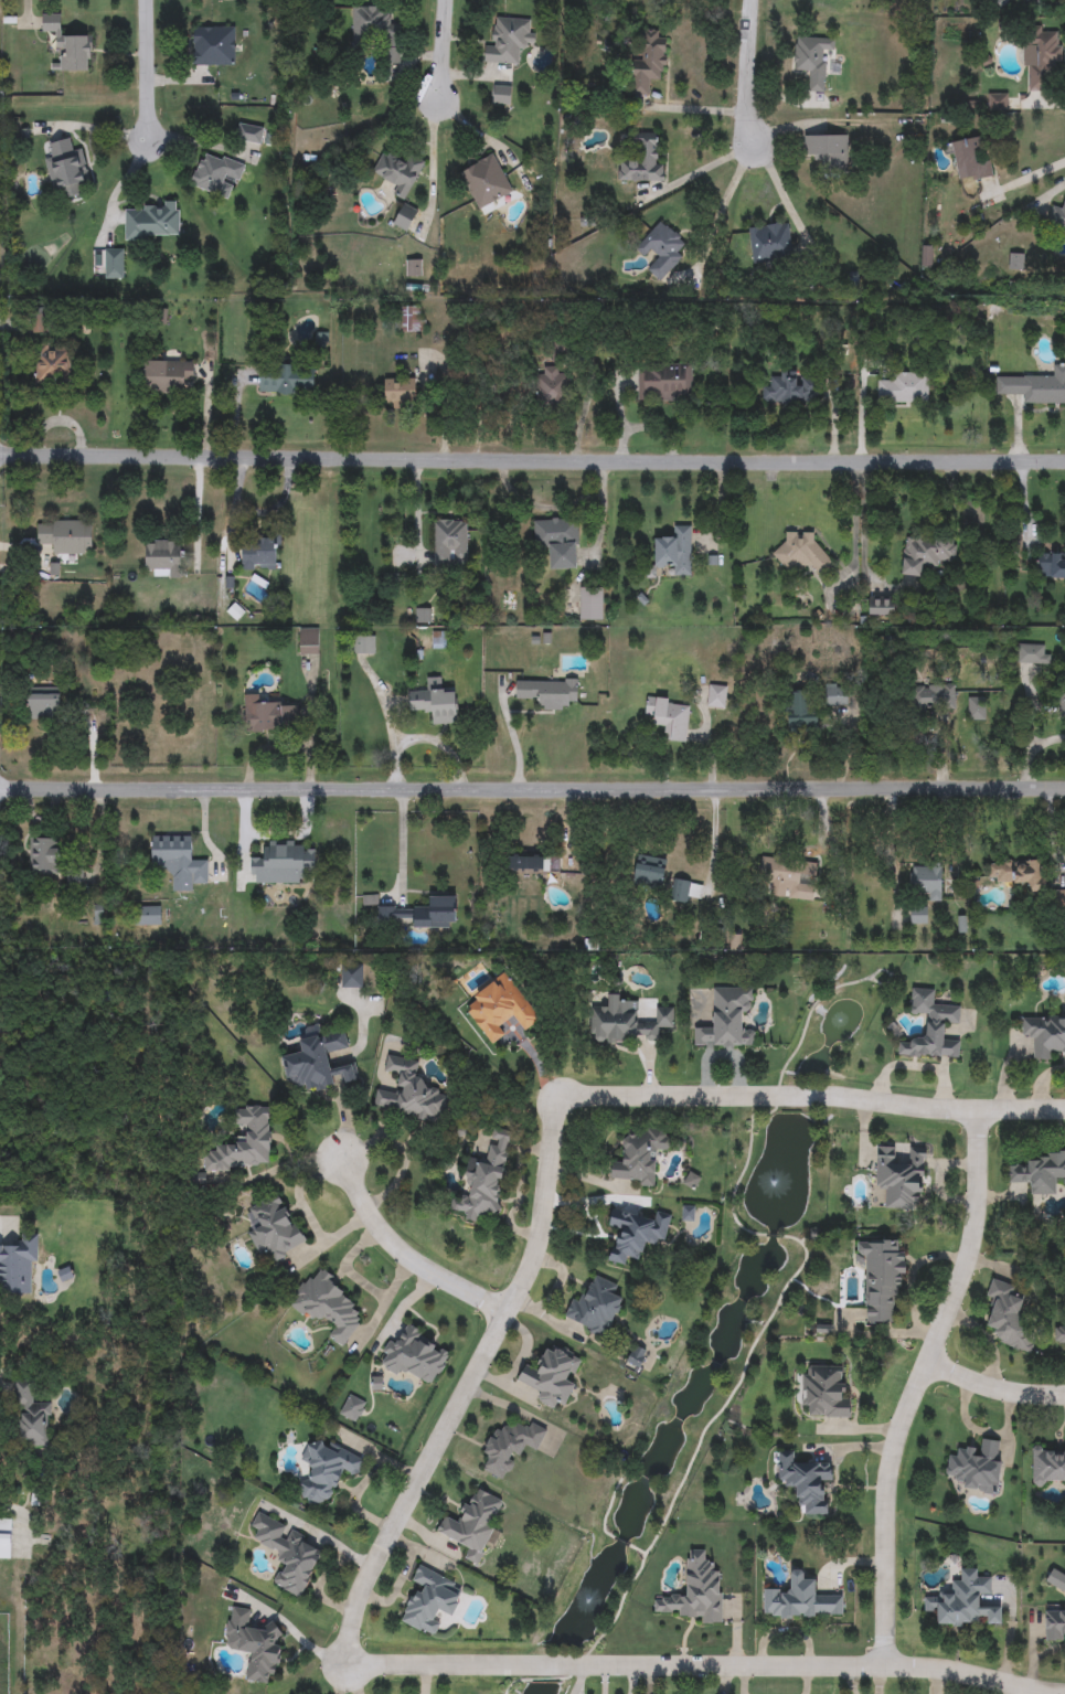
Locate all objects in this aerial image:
building: (51, 24)
building: (379, 31)
building: (509, 41)
building: (213, 46)
road: (443, 51)
building: (75, 54)
building: (812, 60)
building: (1043, 61)
building: (649, 63)
road: (147, 72)
road: (748, 74)
building: (502, 96)
building: (998, 103)
building: (249, 134)
building: (828, 151)
building: (641, 159)
building: (970, 160)
building: (67, 170)
building: (400, 172)
building: (217, 174)
road: (1029, 178)
building: (487, 183)
road: (723, 210)
building: (405, 217)
building: (1057, 219)
building: (152, 222)
building: (769, 243)
building: (661, 251)
building: (1016, 263)
building: (114, 264)
building: (413, 268)
building: (412, 319)
building: (52, 364)
building: (167, 375)
building: (286, 380)
building: (664, 383)
building: (551, 388)
building: (791, 388)
building: (904, 388)
building: (1044, 390)
building: (400, 392)
road: (532, 461)
road: (855, 518)
building: (65, 536)
building: (557, 542)
building: (450, 543)
building: (675, 551)
building: (258, 552)
building: (801, 554)
building: (926, 555)
building: (163, 558)
building: (1051, 566)
building: (590, 603)
building: (882, 607)
building: (308, 642)
building: (365, 646)
building: (1032, 654)
building: (547, 693)
building: (835, 695)
building: (717, 697)
building: (934, 697)
building: (1061, 697)
building: (44, 704)
building: (435, 704)
building: (977, 710)
building: (801, 712)
building: (269, 716)
building: (670, 718)
road: (1031, 754)
road: (532, 790)
road: (402, 843)
building: (44, 855)
building: (179, 861)
building: (281, 864)
building: (533, 864)
building: (650, 871)
building: (778, 871)
building: (1019, 874)
building: (926, 882)
building: (684, 891)
building: (394, 914)
building: (436, 914)
building: (148, 916)
building: (919, 916)
building: (351, 976)
building: (500, 1008)
building: (727, 1020)
building: (627, 1022)
building: (931, 1027)
building: (1044, 1035)
building: (318, 1061)
building: (411, 1093)
road: (776, 1095)
road: (1023, 1110)
building: (257, 1136)
building: (639, 1155)
building: (1040, 1174)
building: (901, 1178)
building: (484, 1182)
road: (309, 1211)
road: (0, 1224)
building: (274, 1228)
building: (636, 1234)
road: (408, 1250)
building: (18, 1265)
building: (881, 1280)
building: (328, 1309)
building: (596, 1309)
building: (1008, 1317)
building: (1059, 1335)
building: (414, 1356)
building: (636, 1357)
building: (552, 1376)
road: (468, 1385)
road: (920, 1385)
road: (995, 1389)
building: (824, 1393)
building: (352, 1408)
building: (32, 1416)
building: (510, 1447)
building: (977, 1467)
building: (1047, 1467)
building: (326, 1471)
building: (805, 1481)
building: (472, 1525)
building: (6, 1538)
road: (323, 1539)
building: (287, 1554)
building: (1056, 1580)
road: (318, 1589)
building: (696, 1592)
building: (430, 1600)
building: (801, 1601)
building: (963, 1602)
building: (1055, 1623)
road: (295, 1634)
building: (253, 1644)
road: (1034, 1656)
road: (704, 1665)
road: (934, 1681)
road: (1013, 1688)

